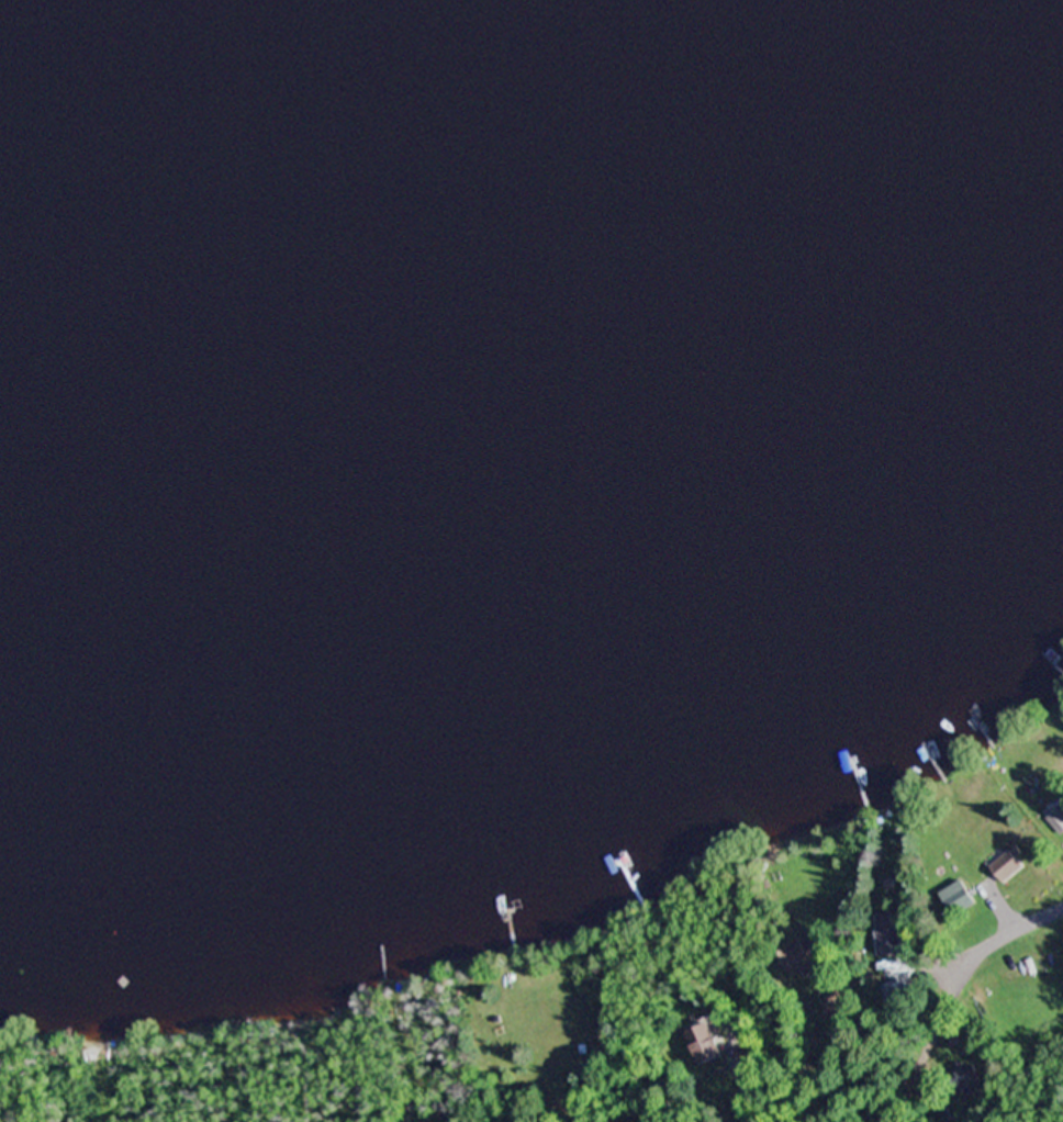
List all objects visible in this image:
building: (1056, 820)
building: (1007, 868)
building: (960, 901)
building: (904, 946)
building: (881, 955)
building: (796, 961)
building: (833, 1001)
road: (945, 1018)
building: (703, 1041)
building: (965, 1079)

